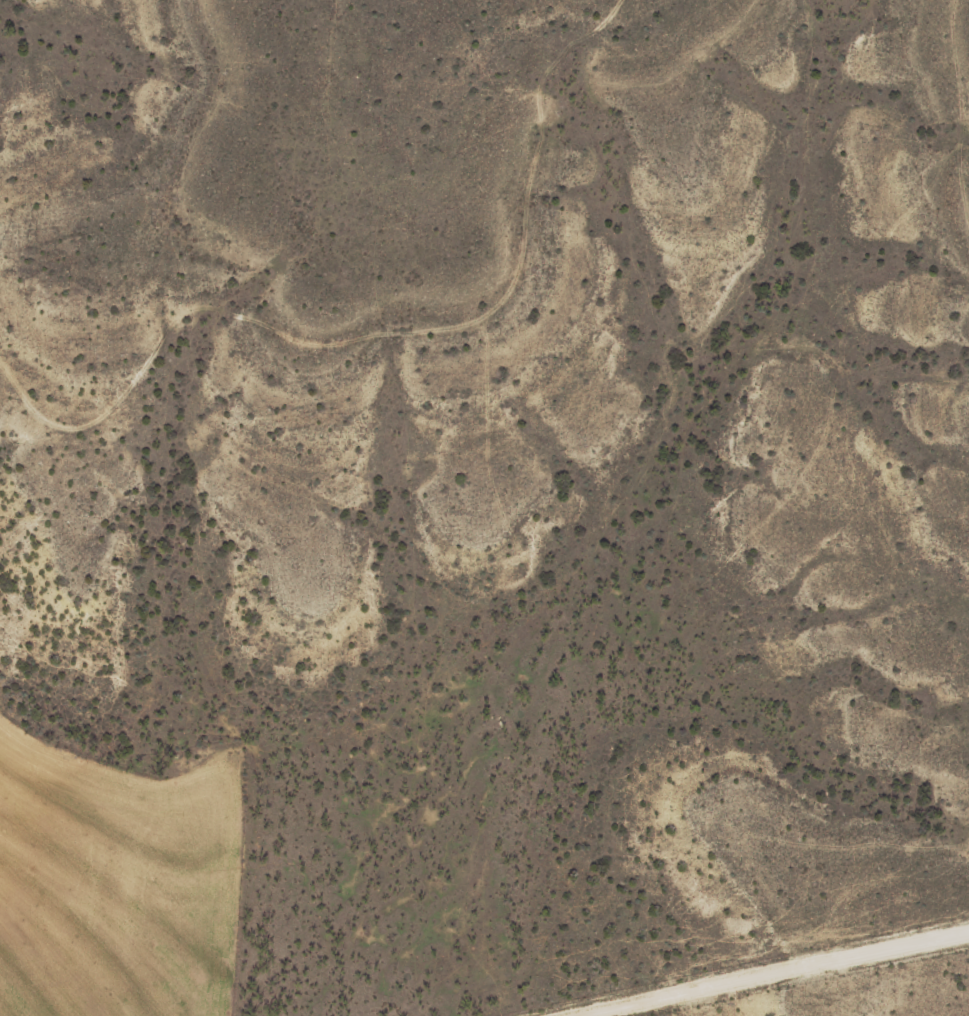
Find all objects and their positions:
road: (777, 973)

